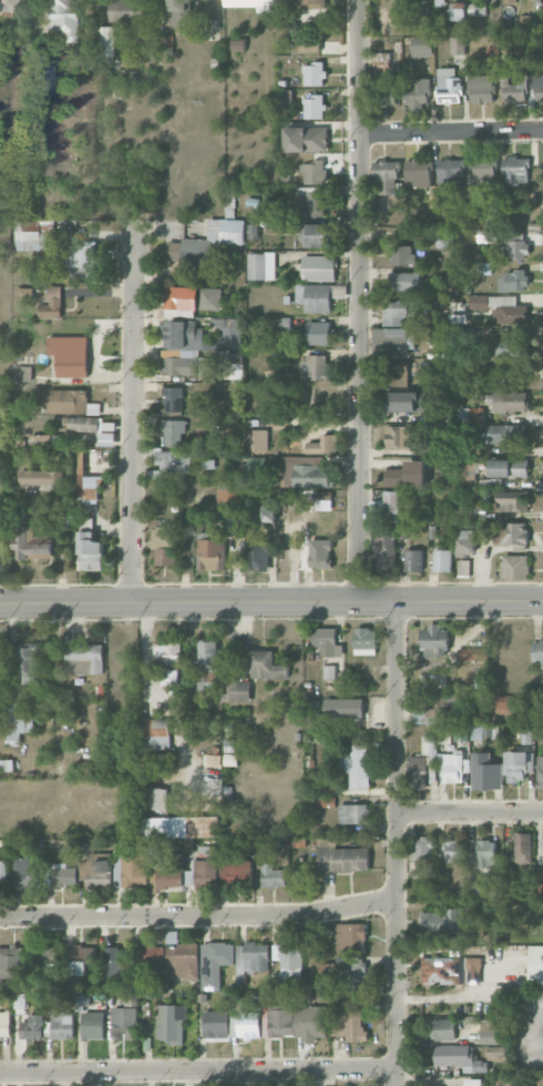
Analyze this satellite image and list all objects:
building: (254, 3)
building: (10, 6)
building: (125, 10)
building: (180, 10)
building: (458, 11)
building: (64, 20)
building: (105, 41)
building: (458, 44)
building: (310, 45)
building: (419, 45)
building: (492, 52)
building: (381, 62)
building: (104, 69)
building: (315, 73)
building: (41, 75)
building: (449, 85)
building: (539, 87)
building: (481, 88)
building: (513, 89)
building: (418, 92)
building: (385, 94)
building: (314, 106)
road: (452, 131)
building: (306, 139)
building: (418, 169)
building: (514, 170)
building: (482, 171)
building: (315, 172)
building: (451, 173)
building: (386, 177)
building: (311, 201)
building: (34, 234)
building: (317, 235)
building: (486, 236)
building: (444, 240)
building: (206, 242)
building: (516, 245)
building: (401, 254)
building: (82, 261)
building: (262, 265)
building: (318, 267)
building: (483, 267)
building: (404, 281)
building: (513, 281)
building: (24, 292)
building: (318, 296)
building: (194, 298)
road: (360, 301)
building: (52, 303)
building: (501, 307)
building: (397, 312)
building: (279, 324)
building: (229, 332)
building: (318, 333)
building: (397, 341)
building: (512, 347)
building: (185, 349)
building: (71, 355)
building: (234, 357)
building: (315, 367)
building: (24, 373)
building: (396, 374)
building: (173, 399)
building: (407, 400)
building: (510, 400)
building: (72, 402)
park: (4, 406)
road: (133, 414)
building: (471, 415)
building: (83, 424)
building: (172, 432)
building: (506, 434)
building: (398, 437)
building: (44, 439)
building: (257, 440)
building: (324, 445)
building: (171, 464)
building: (208, 464)
building: (257, 464)
building: (467, 468)
building: (509, 468)
building: (314, 474)
building: (407, 475)
building: (41, 477)
building: (88, 485)
building: (226, 497)
building: (511, 500)
building: (391, 506)
building: (477, 511)
building: (269, 512)
building: (510, 532)
building: (465, 542)
building: (31, 545)
building: (164, 545)
building: (383, 550)
building: (90, 551)
building: (211, 554)
building: (320, 554)
building: (258, 555)
building: (413, 560)
building: (442, 560)
building: (514, 566)
building: (463, 567)
road: (271, 601)
building: (326, 640)
building: (434, 640)
building: (366, 641)
building: (536, 651)
building: (1, 652)
building: (473, 653)
building: (84, 658)
building: (170, 662)
building: (207, 666)
building: (267, 666)
building: (22, 670)
building: (329, 672)
building: (235, 691)
building: (505, 703)
building: (437, 704)
road: (154, 706)
building: (344, 708)
building: (17, 718)
building: (477, 732)
building: (155, 733)
building: (460, 733)
building: (526, 735)
building: (421, 763)
building: (7, 764)
building: (518, 764)
building: (357, 765)
building: (451, 765)
building: (485, 772)
building: (540, 772)
building: (154, 798)
building: (354, 813)
road: (470, 813)
building: (180, 826)
road: (397, 842)
building: (423, 846)
building: (523, 848)
building: (454, 850)
building: (207, 852)
building: (483, 854)
building: (341, 857)
building: (131, 870)
building: (98, 872)
building: (236, 872)
building: (164, 873)
building: (203, 873)
building: (3, 874)
building: (25, 874)
building: (63, 874)
building: (273, 875)
building: (539, 881)
building: (479, 890)
road: (198, 914)
building: (442, 922)
building: (350, 936)
building: (313, 944)
building: (152, 955)
building: (43, 957)
building: (253, 957)
building: (80, 958)
building: (183, 960)
building: (289, 960)
building: (113, 961)
building: (11, 962)
building: (216, 963)
building: (535, 964)
building: (329, 970)
building: (451, 971)
building: (351, 972)
building: (278, 1018)
building: (124, 1022)
building: (171, 1023)
building: (311, 1023)
building: (6, 1024)
building: (216, 1024)
building: (62, 1025)
building: (93, 1025)
building: (349, 1025)
building: (32, 1026)
building: (249, 1026)
building: (443, 1028)
road: (534, 1029)
building: (492, 1033)
building: (459, 1057)
road: (197, 1069)
road: (260, 1077)
building: (473, 1082)

